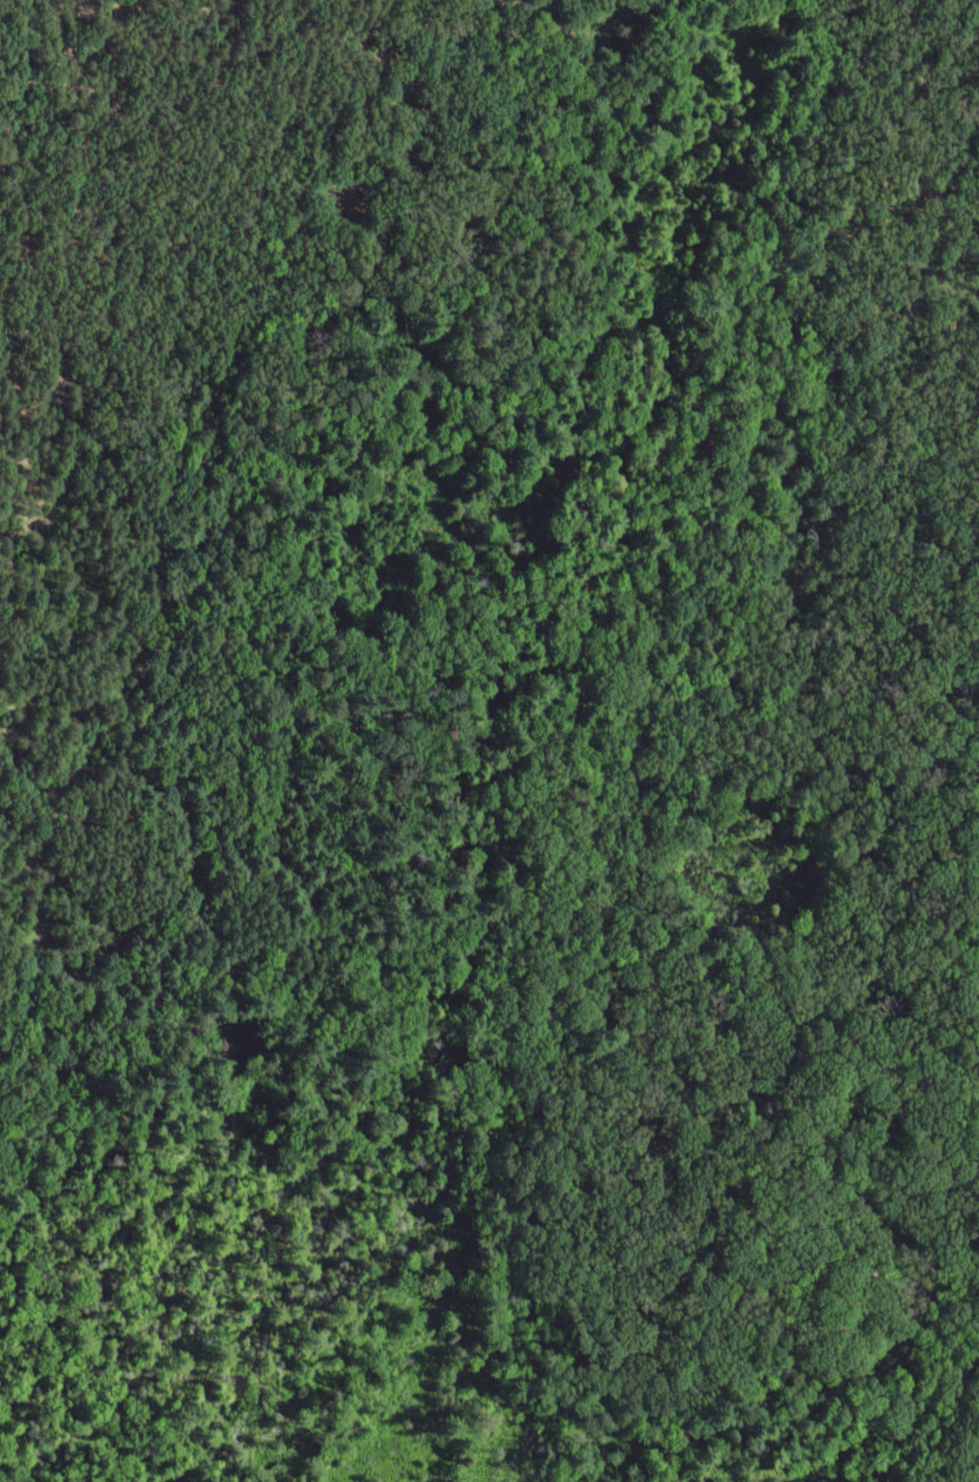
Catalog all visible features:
road: (872, 1205)

